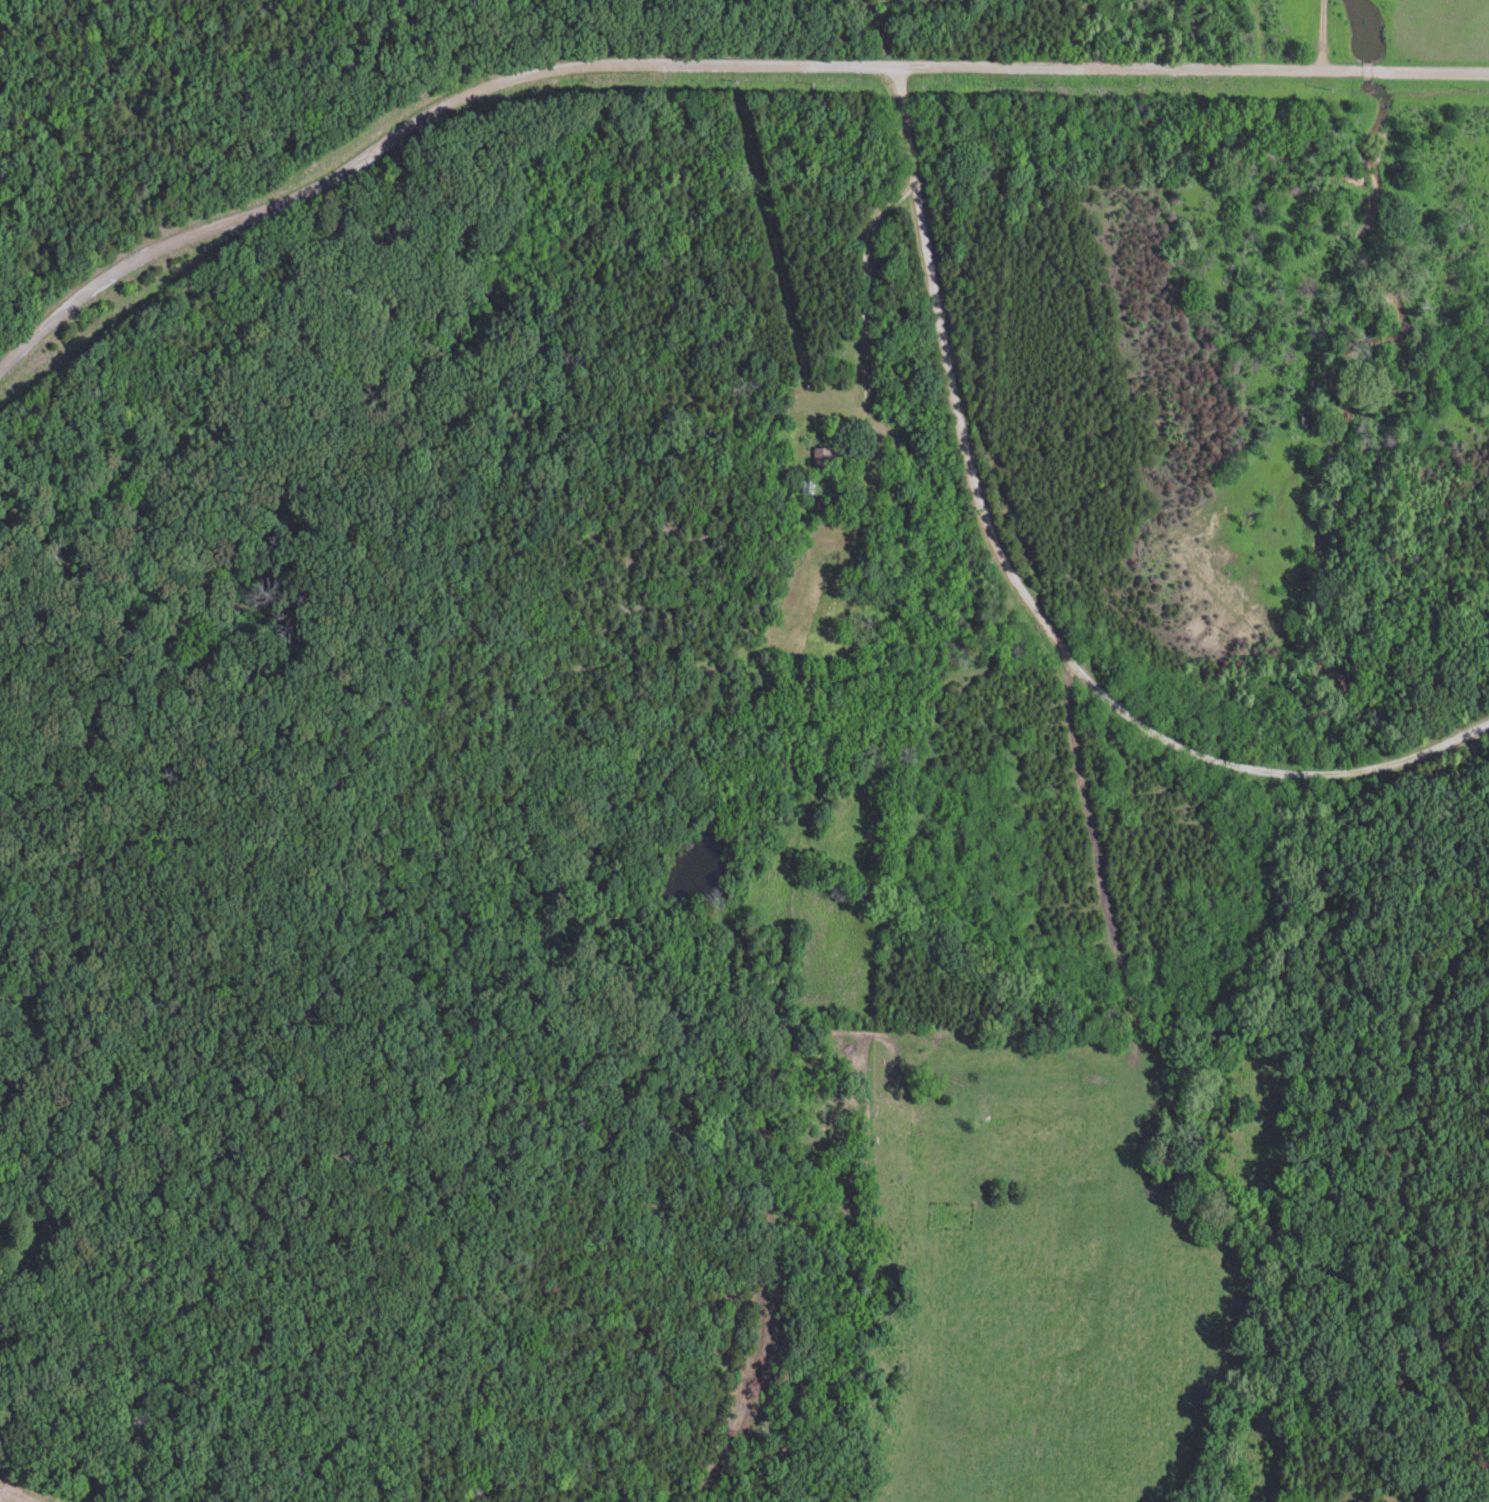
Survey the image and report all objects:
road: (867, 70)
road: (1192, 72)
road: (394, 148)
road: (864, 309)
building: (810, 486)
road: (1021, 594)
road: (1407, 1196)

